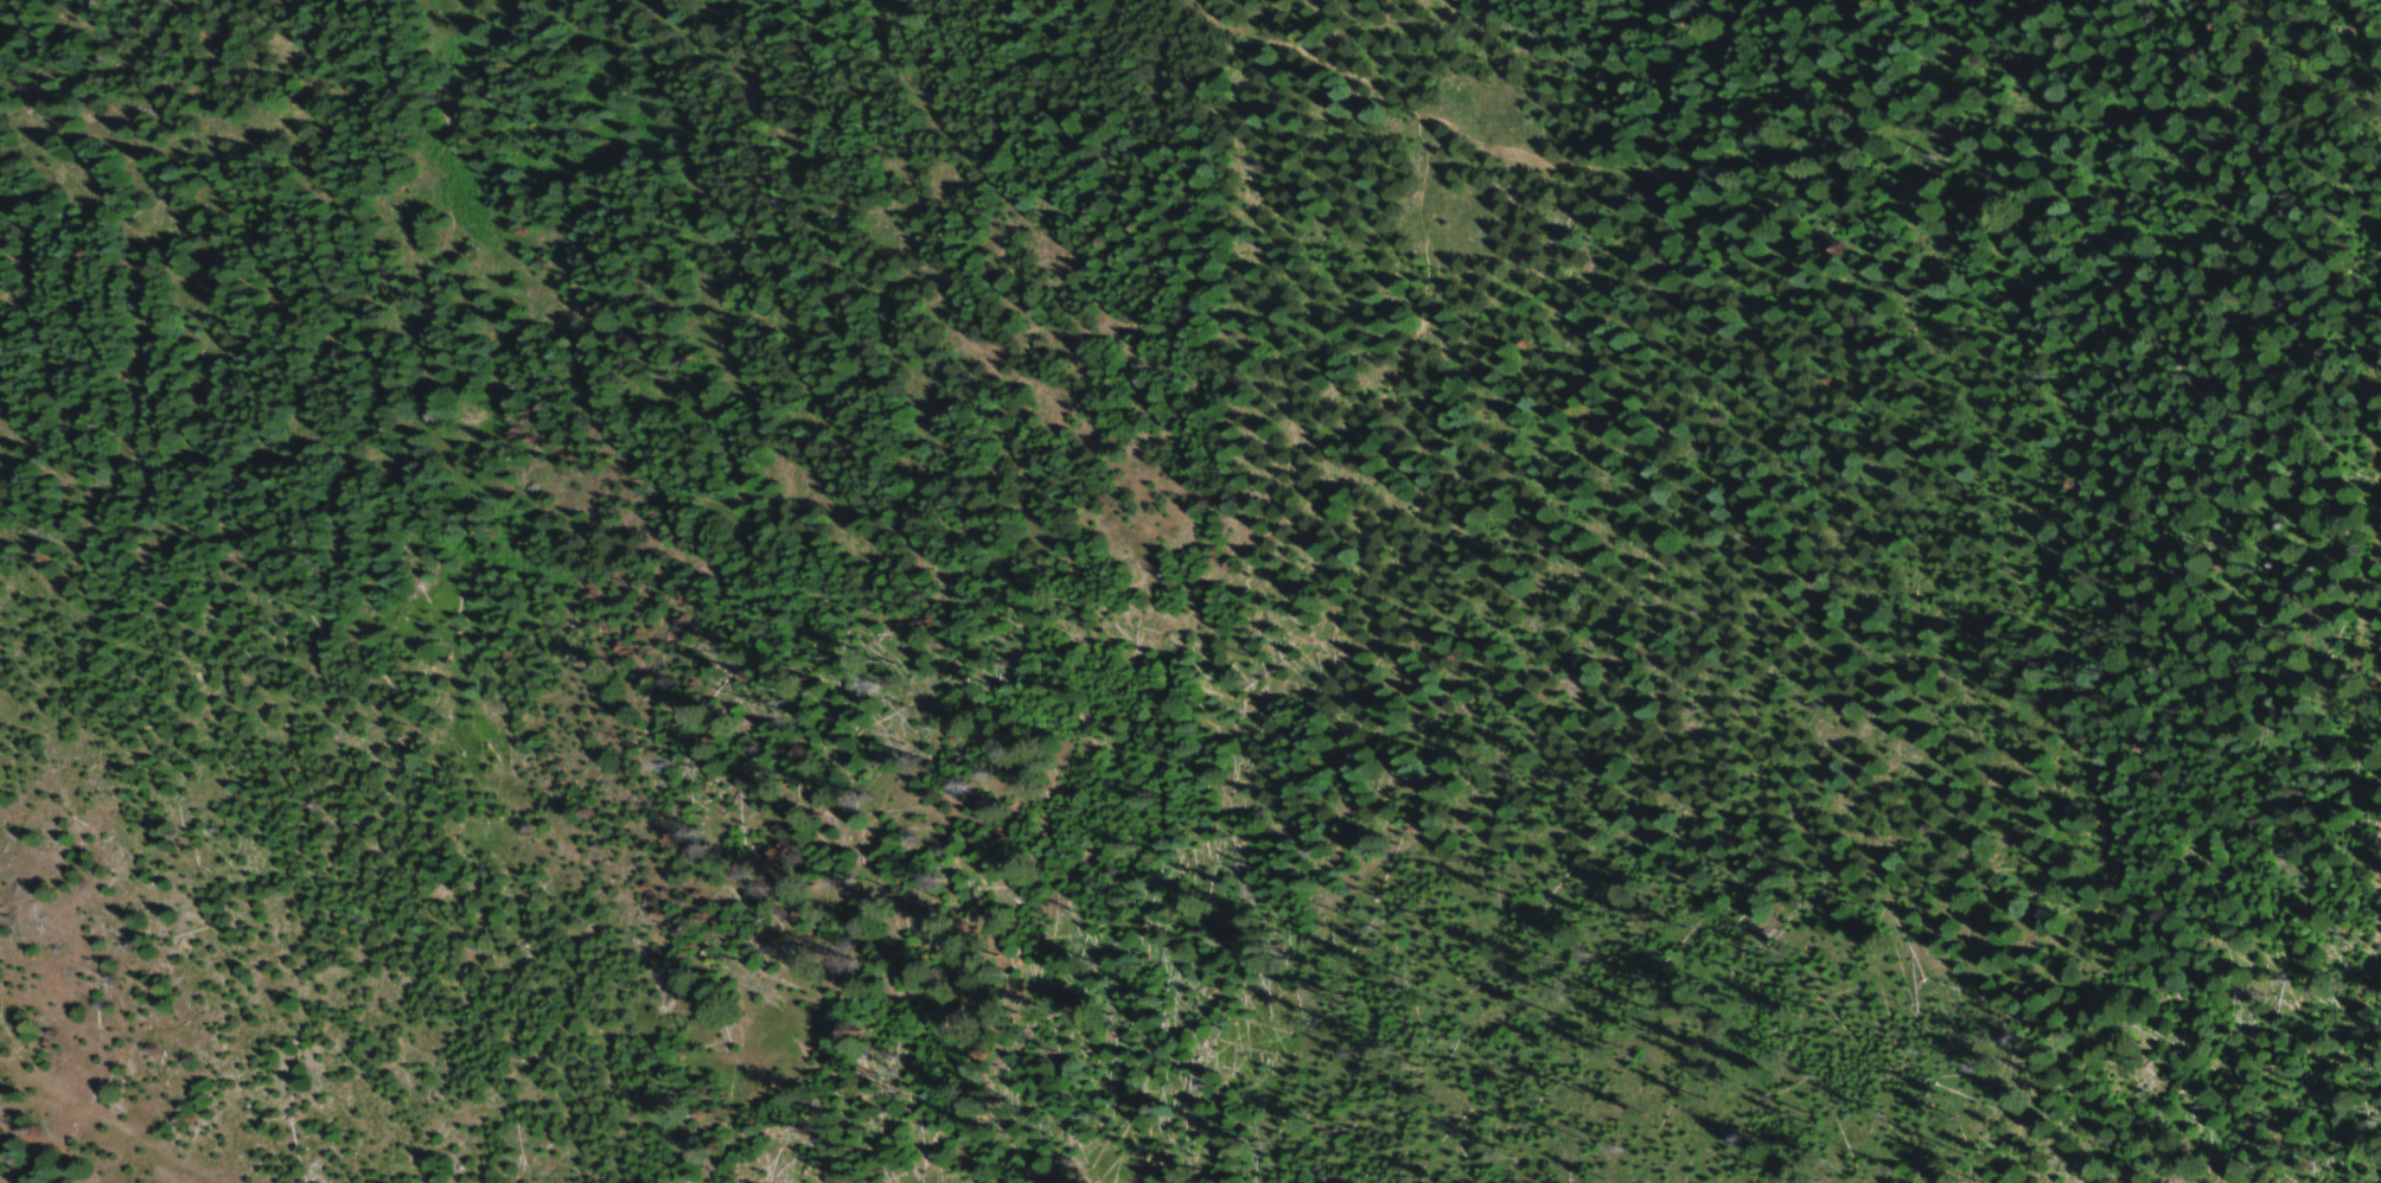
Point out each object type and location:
road: (2361, 40)
road: (2345, 680)

